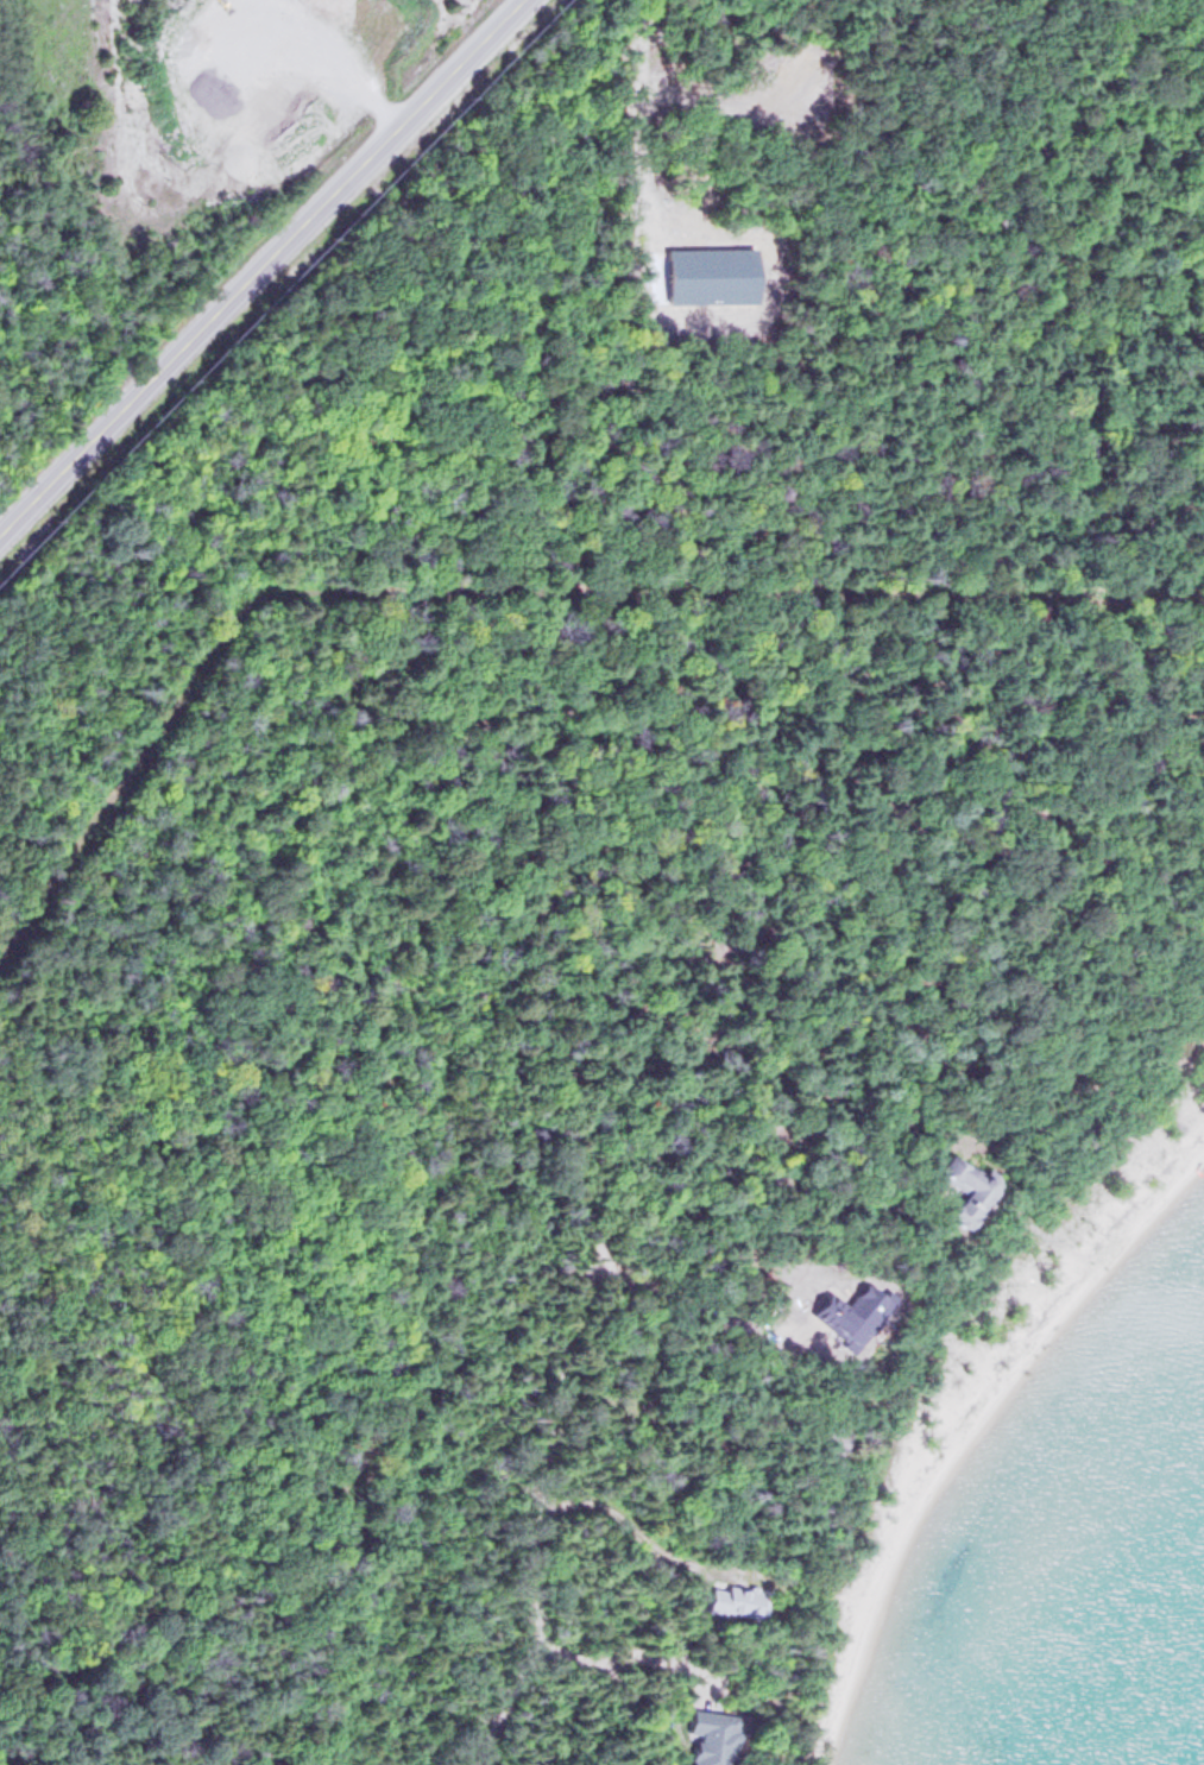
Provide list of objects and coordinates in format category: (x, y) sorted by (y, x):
road: (351, 74)
quarry: (244, 114)
park: (63, 197)
road: (263, 266)
building: (971, 1191)
road: (543, 1486)
building: (740, 1600)
building: (713, 1738)

